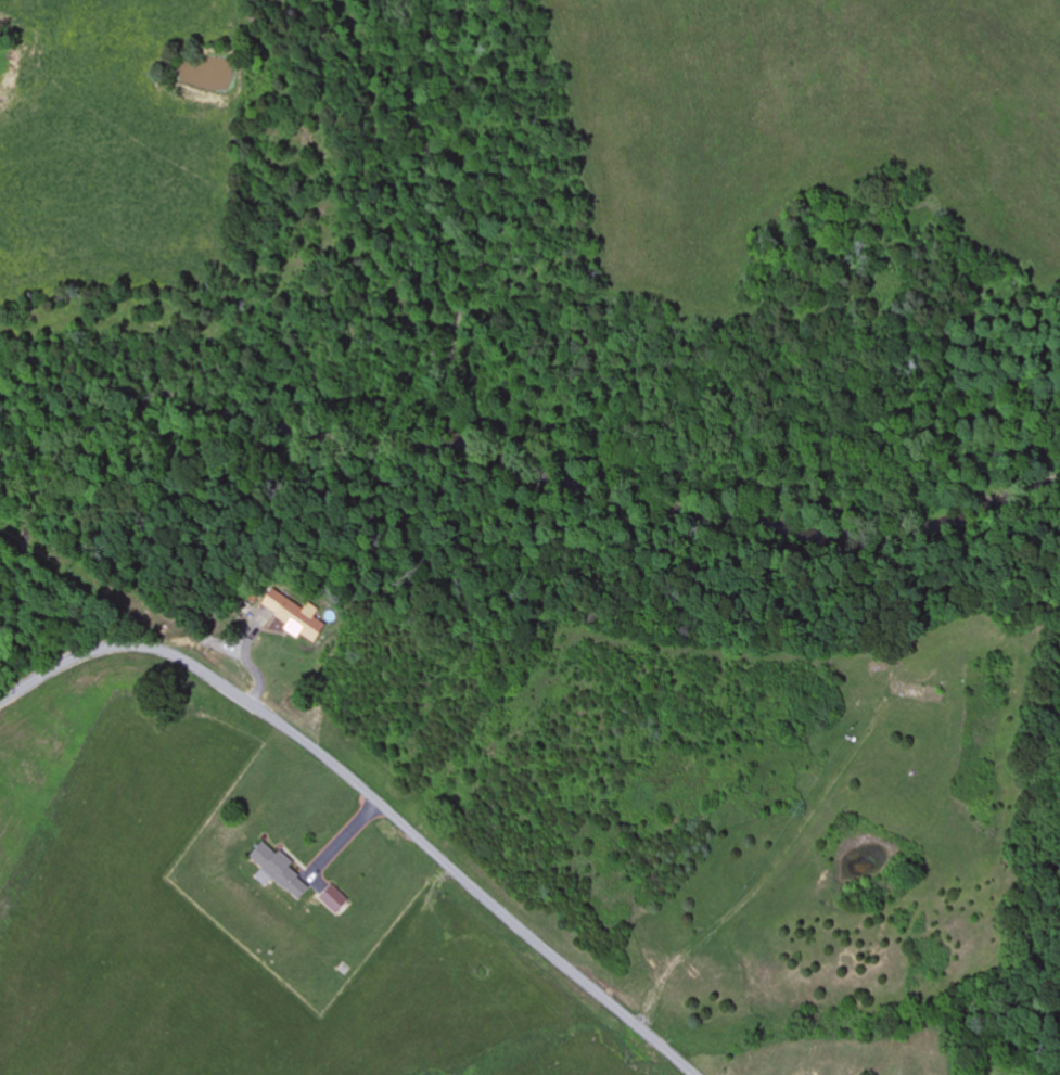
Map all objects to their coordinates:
building: (288, 616)
road: (371, 794)
building: (274, 872)

